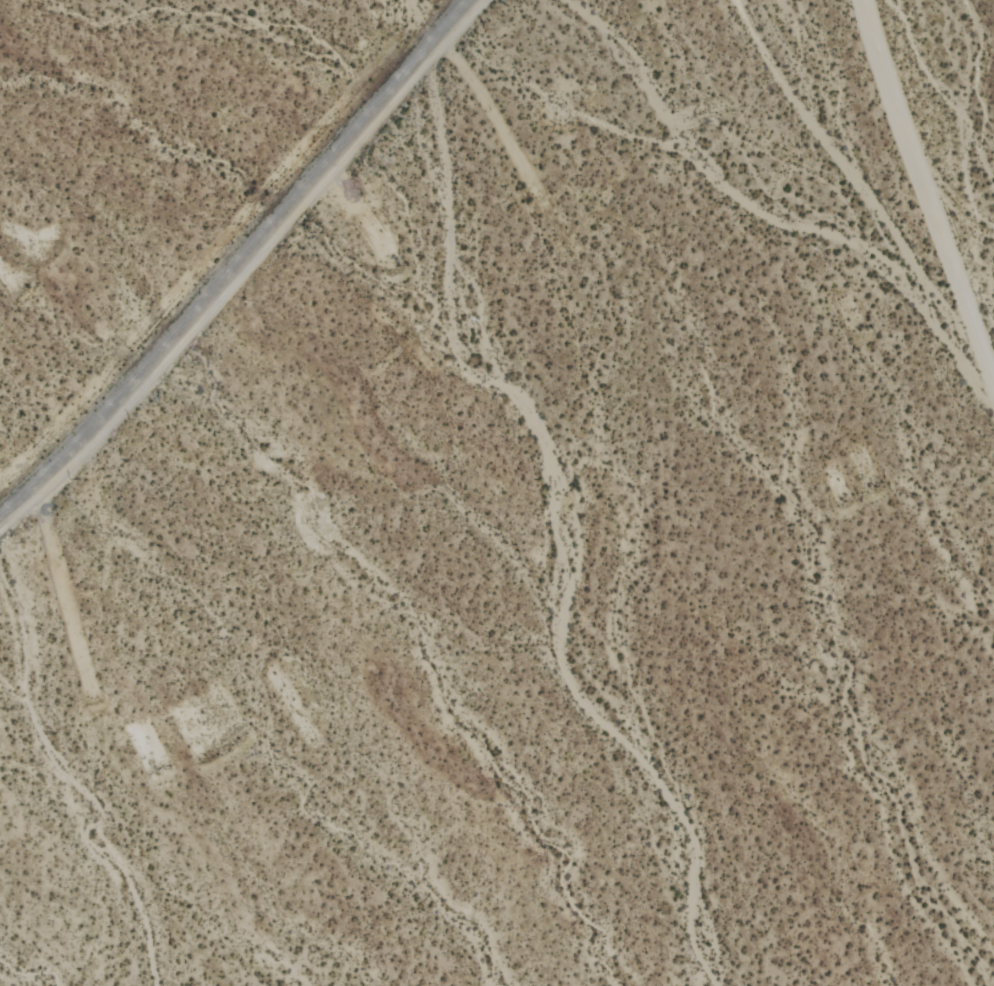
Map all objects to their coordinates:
road: (925, 195)
railway: (233, 257)
road: (244, 267)

